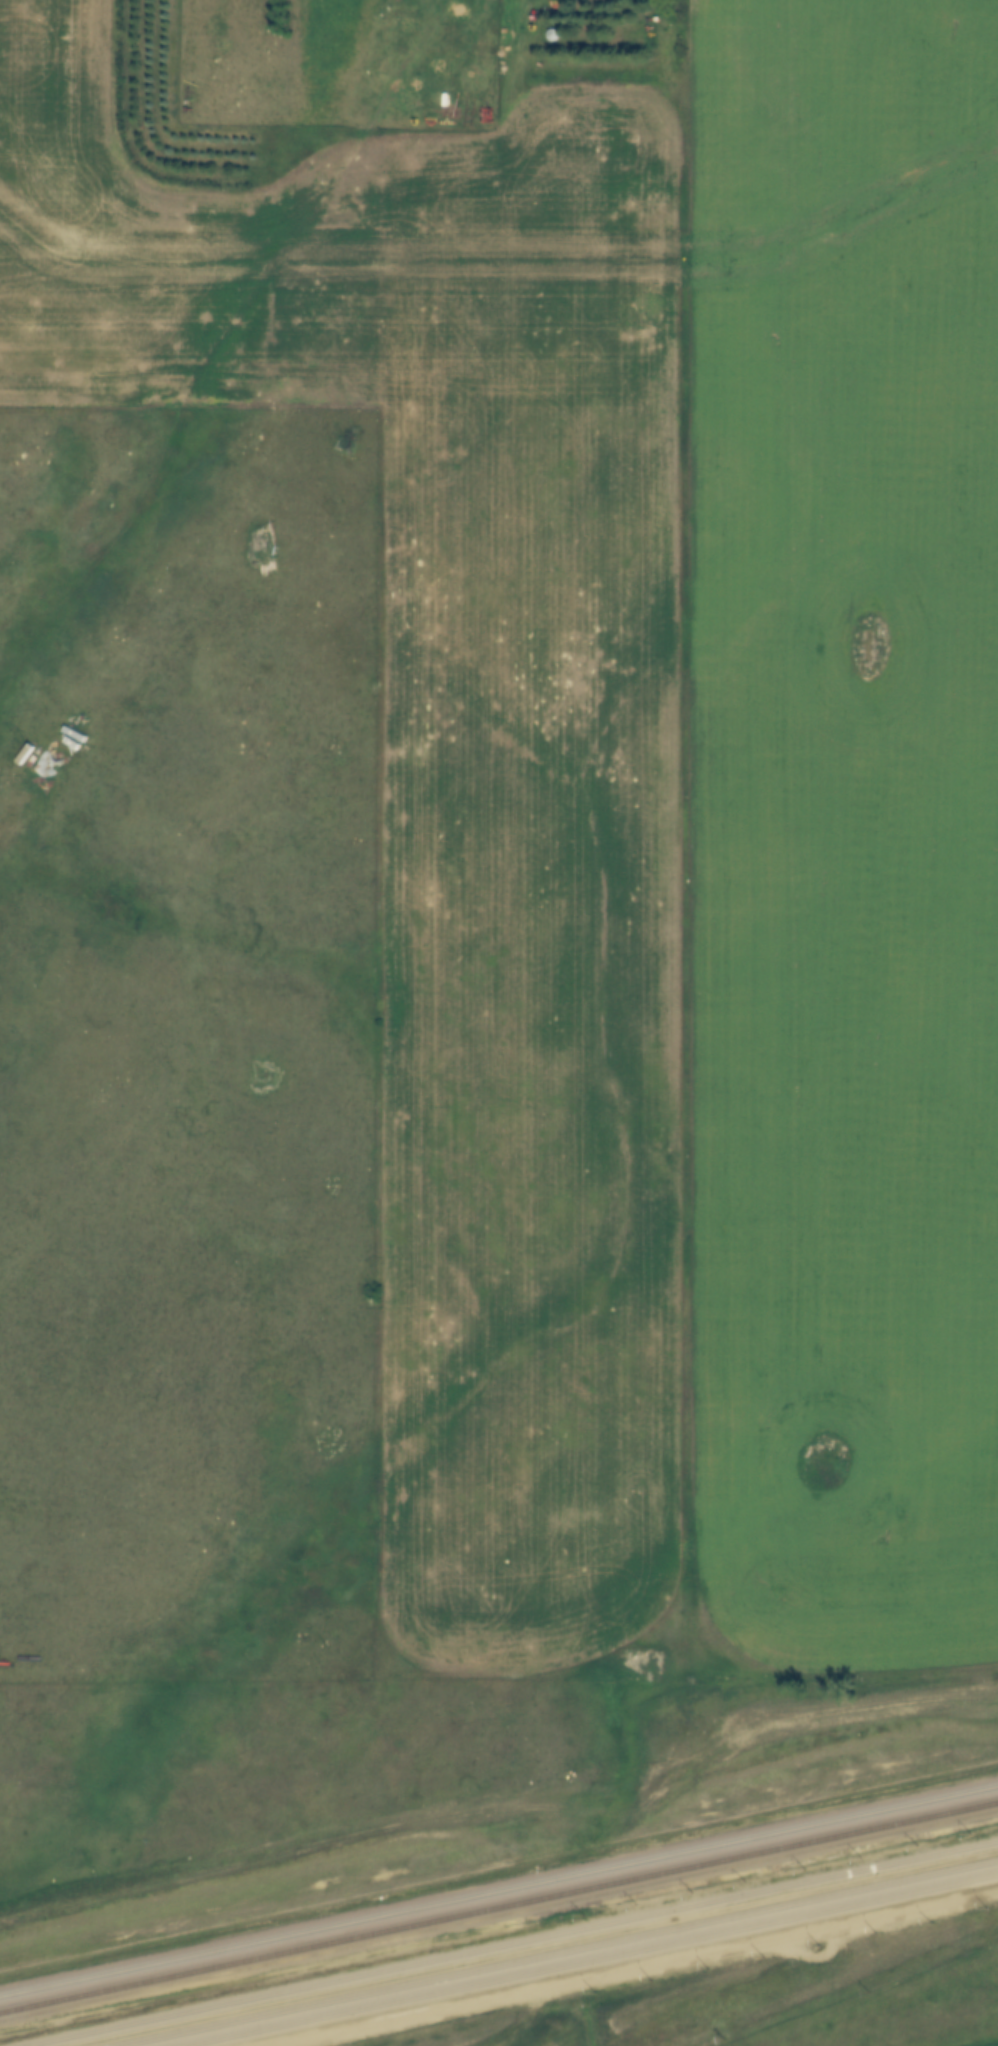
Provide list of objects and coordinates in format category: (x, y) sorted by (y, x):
road: (342, 886)
railway: (498, 1886)
railway: (499, 1905)
railway: (502, 1940)
railway: (544, 1951)
railway: (584, 1959)

